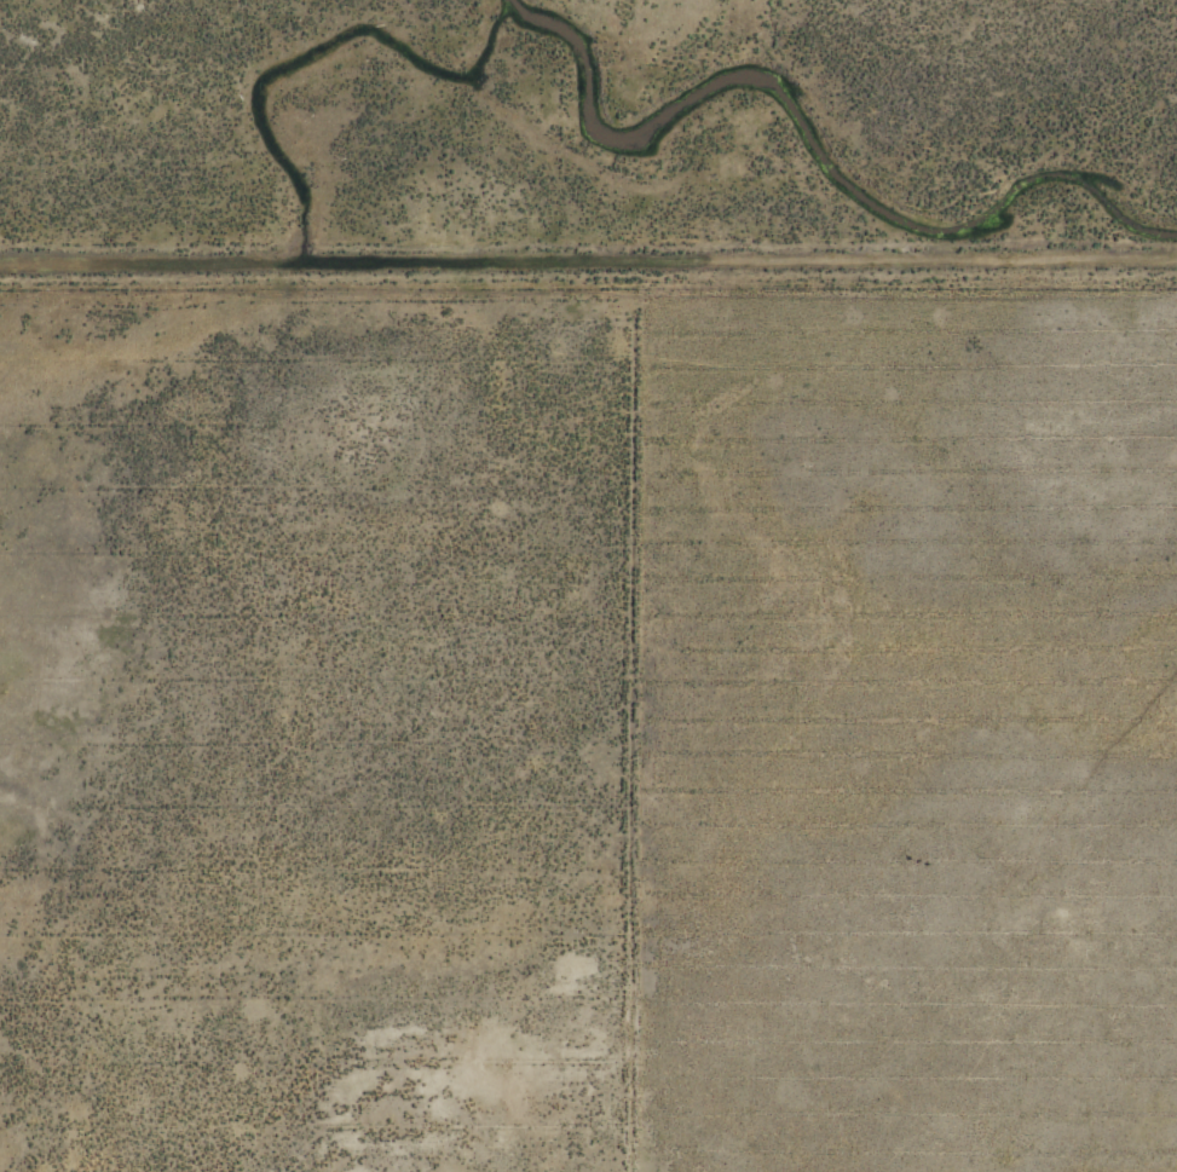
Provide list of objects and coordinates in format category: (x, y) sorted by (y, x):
crop: (588, 585)

